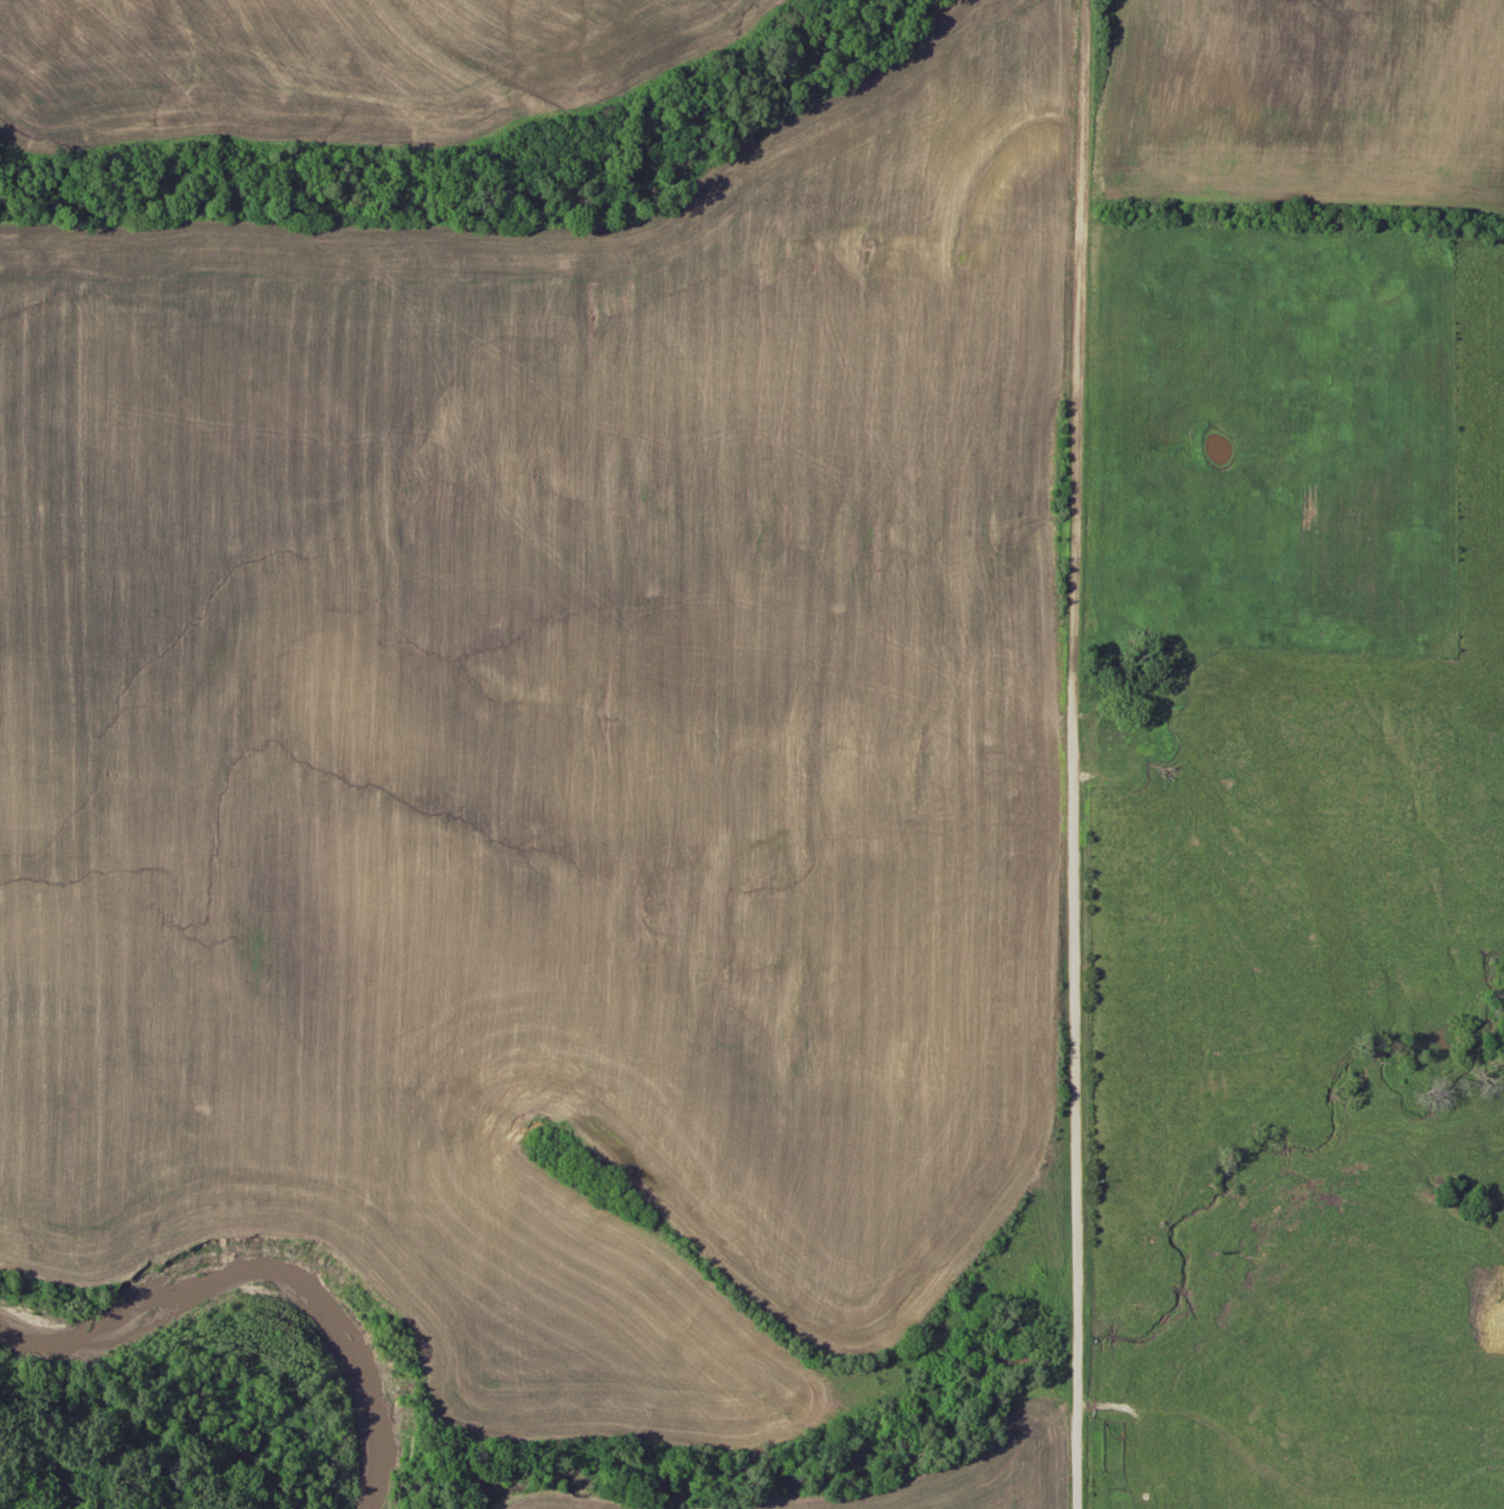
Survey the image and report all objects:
road: (1072, 754)

